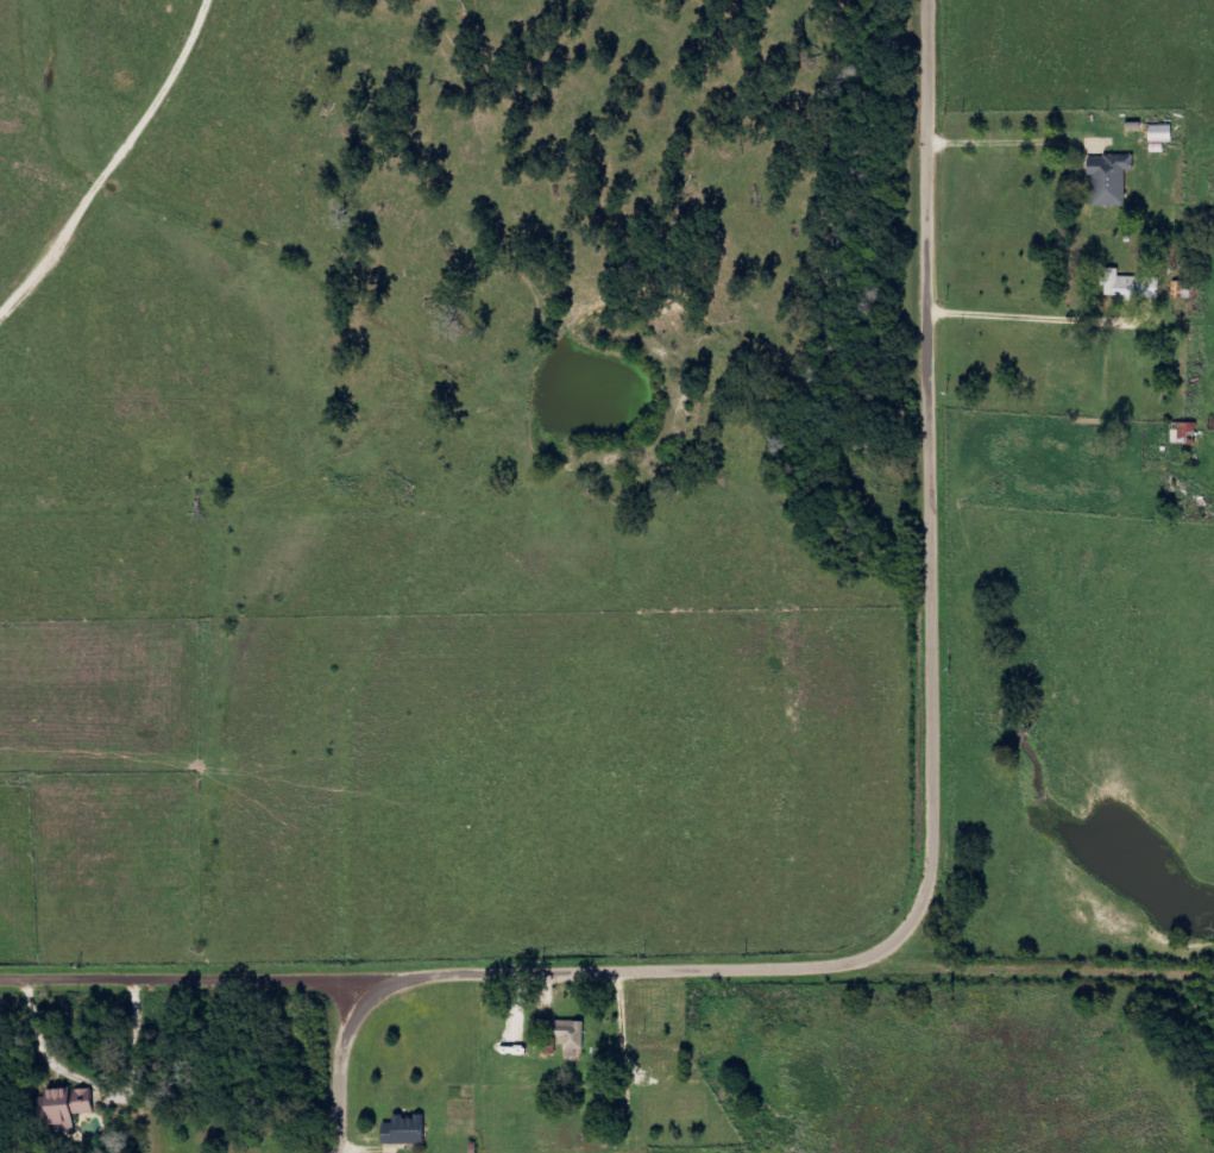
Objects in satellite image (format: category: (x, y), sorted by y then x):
building: (1162, 133)
building: (1111, 178)
building: (1133, 286)
building: (1189, 430)
road: (942, 819)
road: (232, 973)
building: (568, 1035)
building: (62, 1108)
building: (404, 1130)

